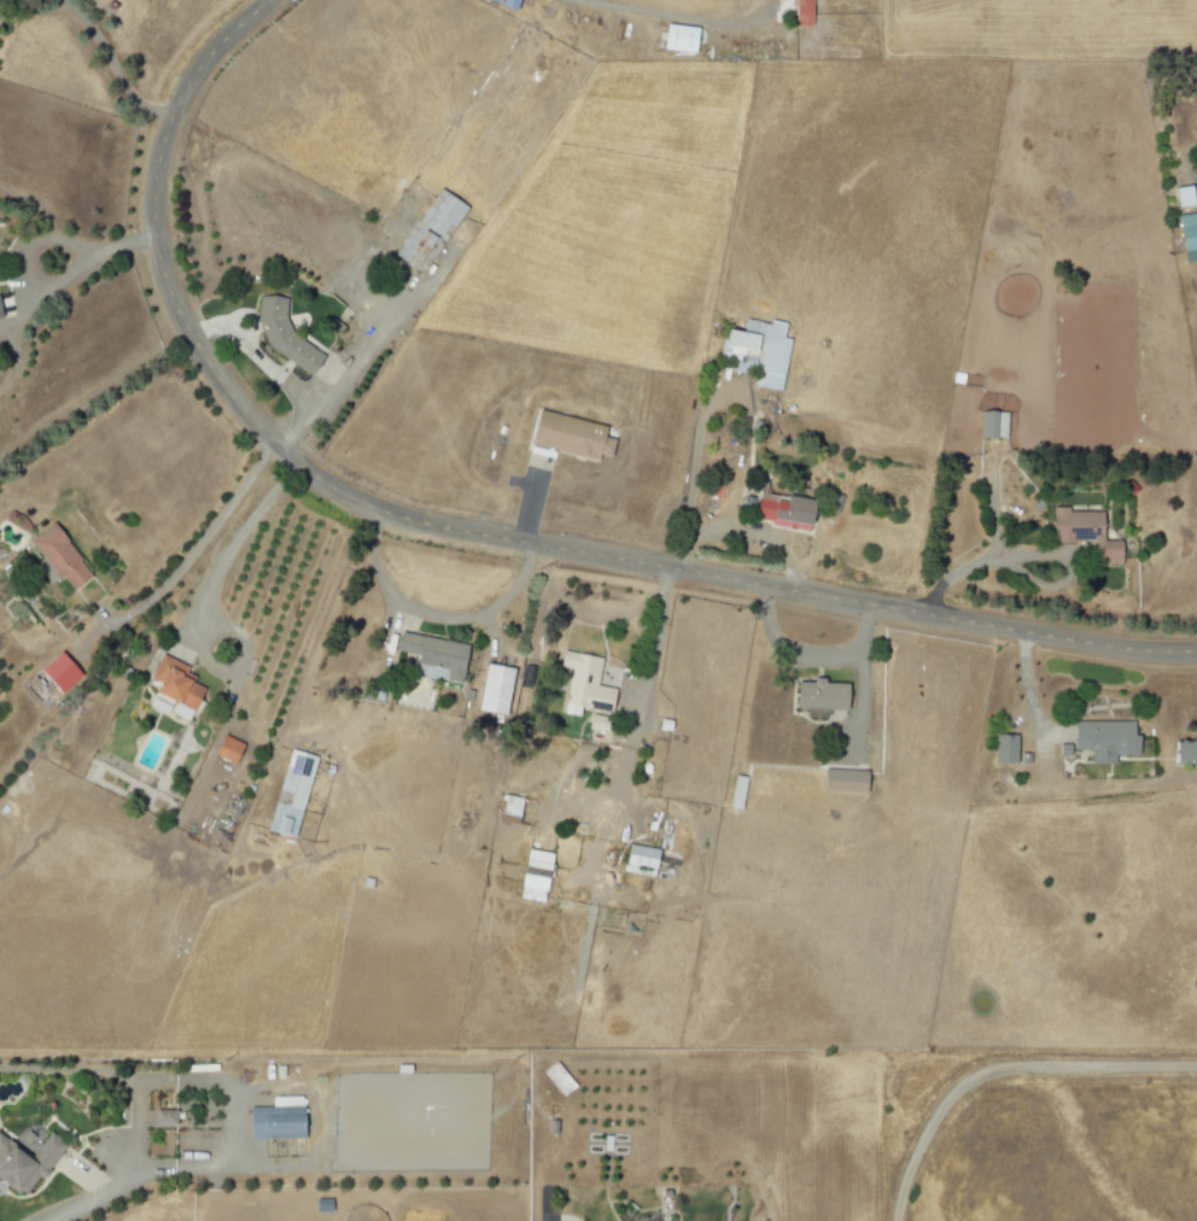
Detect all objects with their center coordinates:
building: (506, 4)
building: (800, 12)
road: (672, 14)
building: (676, 39)
road: (112, 63)
building: (1181, 197)
building: (427, 232)
building: (1187, 235)
road: (36, 243)
building: (281, 334)
building: (757, 351)
road: (354, 368)
building: (991, 423)
building: (566, 436)
road: (695, 477)
road: (527, 501)
building: (778, 512)
road: (761, 531)
road: (468, 533)
building: (1084, 533)
road: (197, 548)
building: (56, 557)
road: (974, 563)
road: (203, 598)
road: (577, 606)
road: (431, 614)
road: (788, 648)
building: (432, 656)
building: (56, 672)
road: (858, 682)
building: (583, 683)
building: (171, 689)
building: (492, 689)
road: (1026, 696)
building: (814, 697)
road: (632, 725)
building: (1103, 738)
building: (1003, 748)
building: (224, 749)
building: (1183, 752)
building: (841, 781)
building: (290, 793)
building: (735, 793)
building: (507, 810)
building: (640, 857)
building: (532, 876)
road: (1010, 1087)
building: (162, 1117)
building: (25, 1161)
road: (135, 1175)

